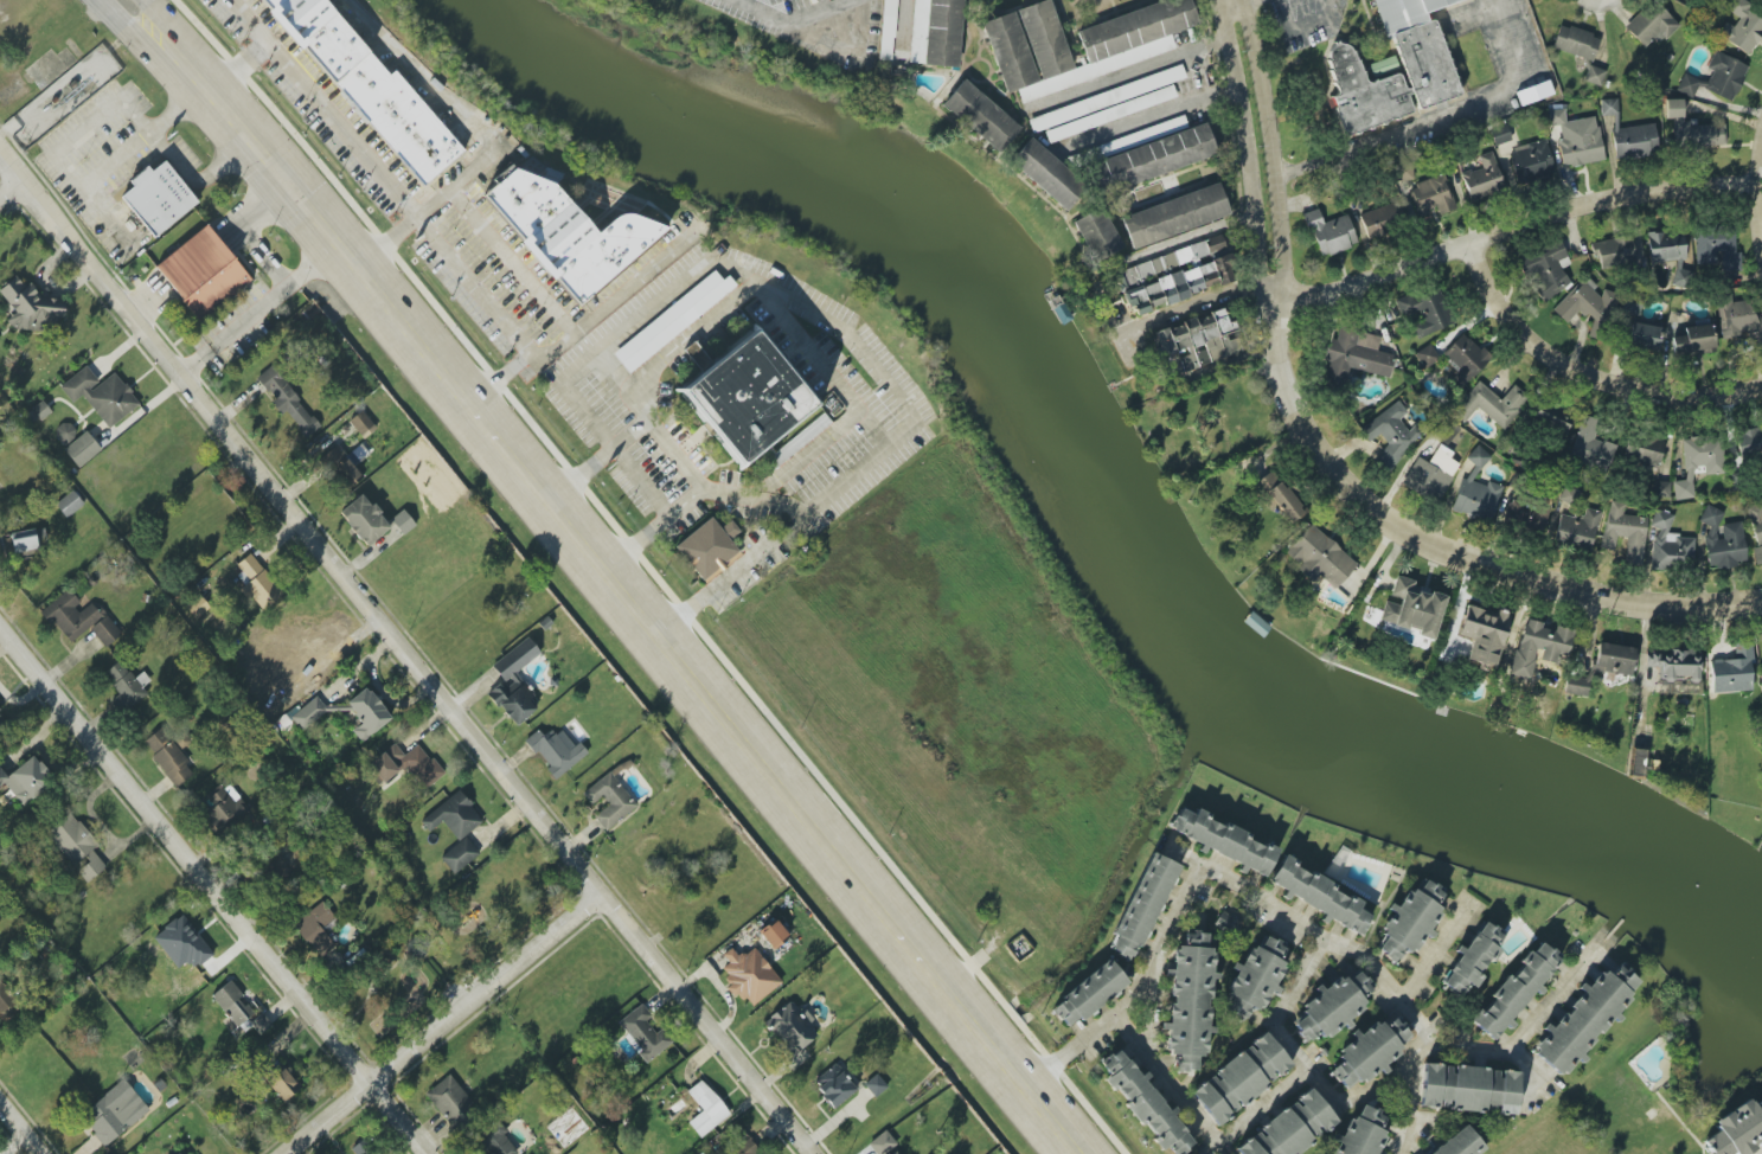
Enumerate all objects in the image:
road: (1242, 1)
road: (1220, 4)
road: (1236, 4)
road: (150, 14)
road: (123, 19)
road: (789, 20)
building: (1651, 24)
road: (903, 26)
building: (1742, 26)
road: (1299, 28)
building: (889, 30)
building: (936, 32)
building: (1127, 43)
building: (1575, 43)
road: (233, 63)
building: (1421, 64)
building: (1383, 68)
road: (1132, 71)
building: (1594, 76)
building: (1716, 78)
building: (372, 88)
road: (433, 91)
building: (1533, 92)
building: (1107, 98)
building: (1110, 114)
building: (981, 116)
road: (1152, 116)
road: (1436, 118)
road: (87, 124)
building: (1692, 129)
building: (1629, 134)
road: (143, 135)
building: (1500, 135)
building: (1576, 139)
road: (1269, 142)
road: (1245, 147)
building: (1153, 159)
building: (1531, 161)
road: (179, 168)
building: (1047, 173)
building: (1482, 178)
road: (379, 179)
road: (9, 191)
building: (1431, 195)
building: (158, 198)
road: (1755, 198)
road: (94, 199)
road: (254, 210)
road: (424, 210)
building: (1175, 216)
building: (1382, 220)
road: (1507, 231)
building: (563, 233)
building: (1329, 233)
building: (1097, 235)
building: (1717, 248)
building: (1613, 250)
building: (1670, 254)
road: (260, 258)
road: (506, 261)
building: (1545, 269)
building: (203, 273)
building: (1177, 275)
road: (1270, 296)
road: (147, 301)
road: (792, 302)
building: (1585, 302)
building: (1632, 307)
building: (33, 308)
road: (258, 310)
building: (1425, 310)
road: (1194, 312)
road: (583, 316)
building: (1739, 319)
building: (673, 320)
building: (1642, 336)
building: (1693, 340)
road: (803, 341)
building: (1194, 342)
building: (1356, 355)
building: (1427, 355)
building: (1466, 359)
road: (611, 370)
road: (1583, 378)
building: (101, 395)
building: (745, 397)
building: (287, 400)
building: (1491, 404)
building: (37, 412)
building: (1550, 421)
building: (363, 424)
building: (64, 432)
building: (1390, 435)
building: (1749, 442)
building: (1590, 444)
building: (82, 449)
building: (1644, 450)
road: (675, 451)
building: (1698, 462)
building: (340, 467)
building: (1431, 473)
road: (639, 481)
building: (1661, 489)
building: (1476, 492)
building: (1280, 498)
building: (69, 504)
building: (1526, 514)
building: (1710, 515)
building: (364, 519)
building: (402, 522)
building: (1576, 531)
building: (1756, 531)
building: (1625, 532)
building: (28, 539)
building: (1670, 544)
building: (707, 546)
building: (1725, 546)
road: (1447, 556)
building: (1320, 557)
road: (653, 573)
building: (257, 583)
road: (617, 588)
road: (711, 589)
building: (197, 607)
building: (1412, 608)
building: (79, 618)
building: (1482, 634)
building: (1538, 647)
road: (405, 656)
building: (1613, 659)
building: (1675, 671)
building: (1732, 671)
building: (296, 677)
building: (514, 682)
building: (126, 686)
building: (1575, 686)
building: (308, 712)
building: (367, 713)
building: (1, 723)
building: (556, 751)
building: (168, 757)
building: (1636, 762)
building: (406, 765)
building: (27, 780)
building: (610, 801)
building: (225, 808)
building: (454, 816)
building: (1223, 841)
building: (76, 845)
building: (459, 854)
road: (212, 891)
building: (1320, 895)
road: (1252, 897)
building: (1141, 908)
building: (1228, 919)
building: (1410, 921)
building: (315, 929)
building: (773, 934)
building: (181, 943)
park: (451, 948)
road: (1431, 955)
building: (1473, 959)
building: (748, 975)
building: (1254, 979)
building: (1514, 990)
building: (1087, 994)
building: (1188, 1001)
building: (5, 1002)
road: (1280, 1006)
building: (239, 1008)
building: (1329, 1009)
building: (1584, 1018)
road: (440, 1024)
building: (790, 1026)
building: (643, 1033)
road: (1130, 1039)
road: (1473, 1049)
building: (1369, 1052)
road: (1309, 1073)
building: (1239, 1079)
building: (281, 1082)
building: (835, 1084)
building: (874, 1085)
building: (1468, 1089)
building: (449, 1099)
building: (1143, 1104)
building: (706, 1108)
building: (111, 1115)
building: (1290, 1128)
road: (19, 1129)
building: (1737, 1129)
building: (1360, 1134)
building: (494, 1141)
building: (739, 1142)
building: (882, 1143)
building: (1459, 1143)
building: (358, 1152)
building: (893, 1152)
road: (1761, 1153)

